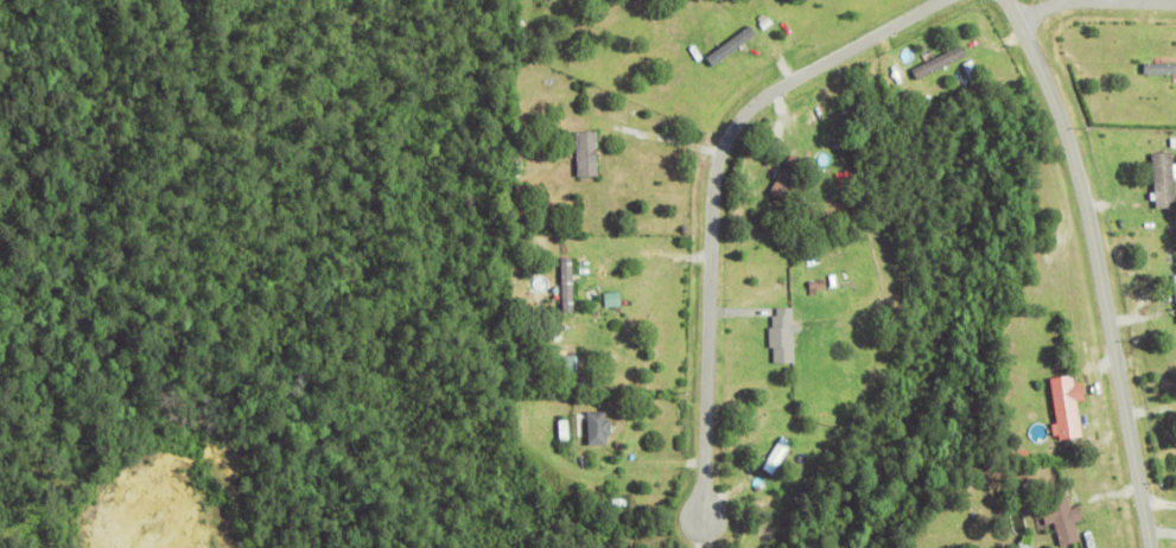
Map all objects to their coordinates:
road: (1100, 1)
building: (763, 24)
building: (727, 47)
building: (940, 60)
building: (1161, 65)
building: (840, 147)
building: (589, 151)
building: (521, 164)
building: (789, 176)
building: (1164, 177)
road: (714, 197)
building: (526, 224)
road: (1104, 267)
building: (1159, 278)
building: (570, 282)
building: (614, 298)
building: (532, 326)
building: (786, 333)
building: (567, 363)
building: (1068, 404)
building: (600, 426)
building: (778, 453)
building: (627, 455)
building: (1034, 502)
building: (1066, 514)
building: (643, 546)

